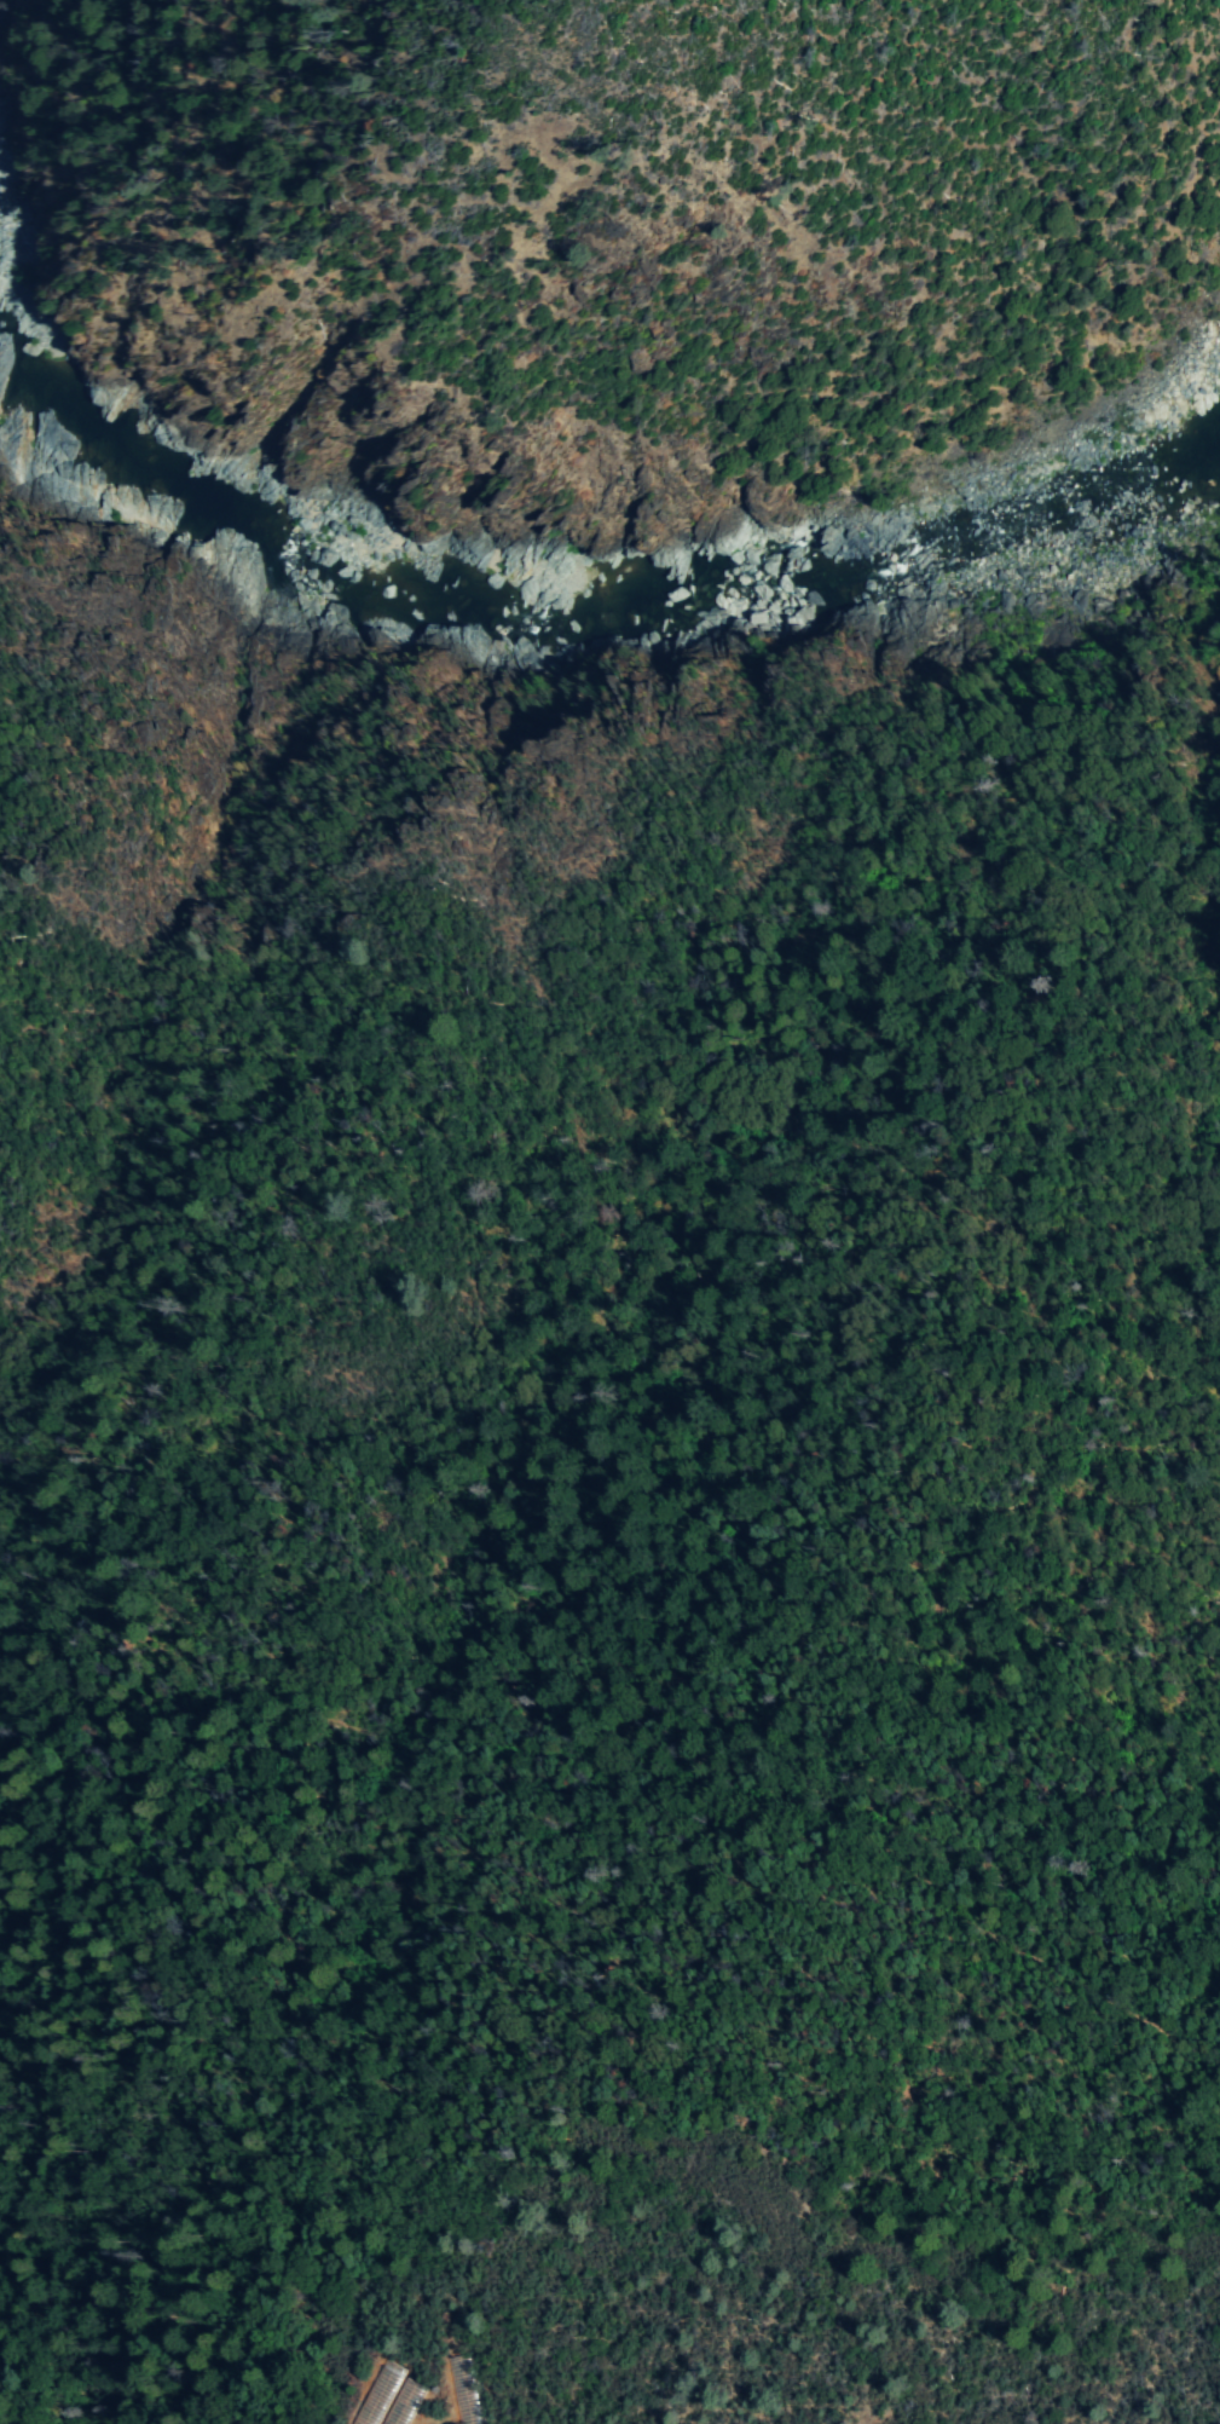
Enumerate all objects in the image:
river: (1168, 466)
river: (156, 496)
river: (724, 590)

